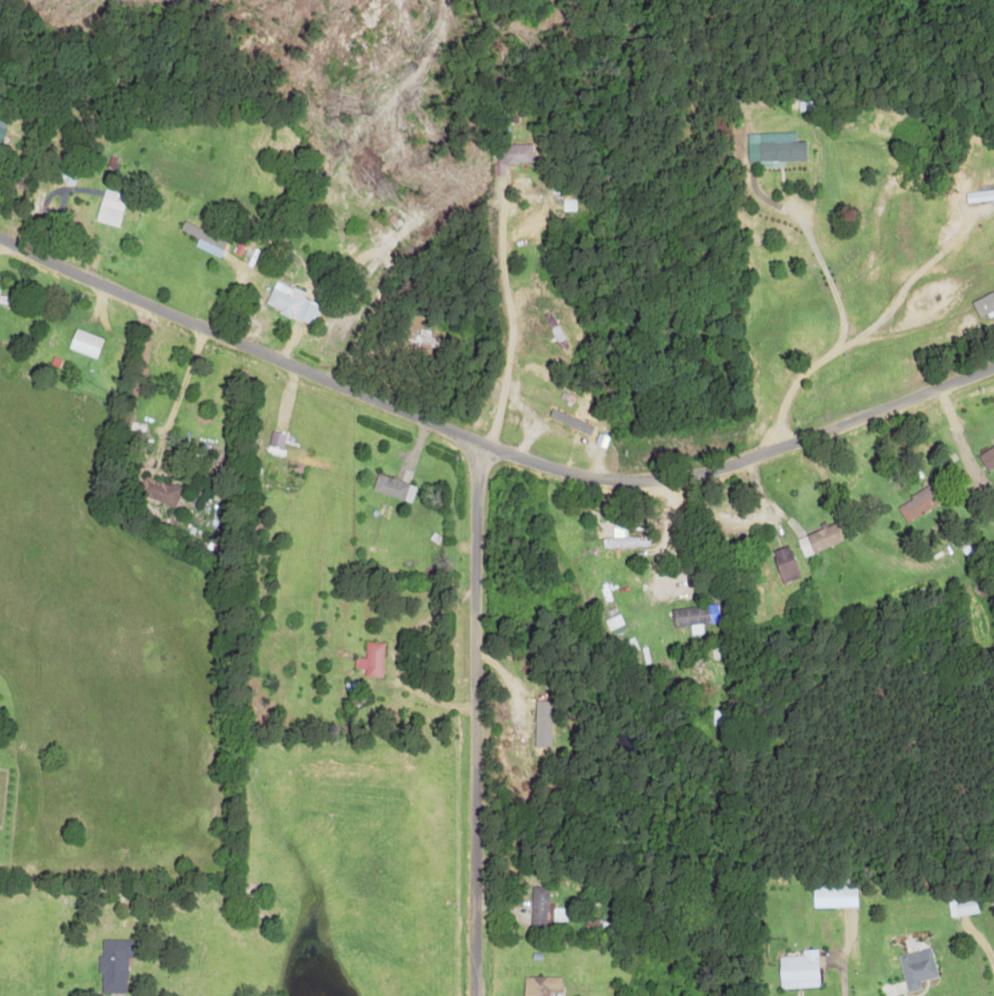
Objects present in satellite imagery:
building: (2, 129)
building: (774, 148)
building: (515, 153)
building: (980, 196)
building: (110, 207)
building: (202, 234)
road: (636, 267)
building: (291, 302)
building: (983, 303)
building: (425, 340)
building: (84, 342)
road: (548, 353)
road: (487, 447)
building: (393, 487)
building: (159, 490)
building: (918, 503)
building: (618, 539)
building: (819, 539)
building: (785, 563)
building: (694, 616)
building: (371, 660)
road: (409, 692)
road: (467, 720)
building: (542, 723)
building: (833, 897)
building: (538, 904)
building: (114, 964)
building: (916, 968)
building: (798, 970)
building: (539, 985)

